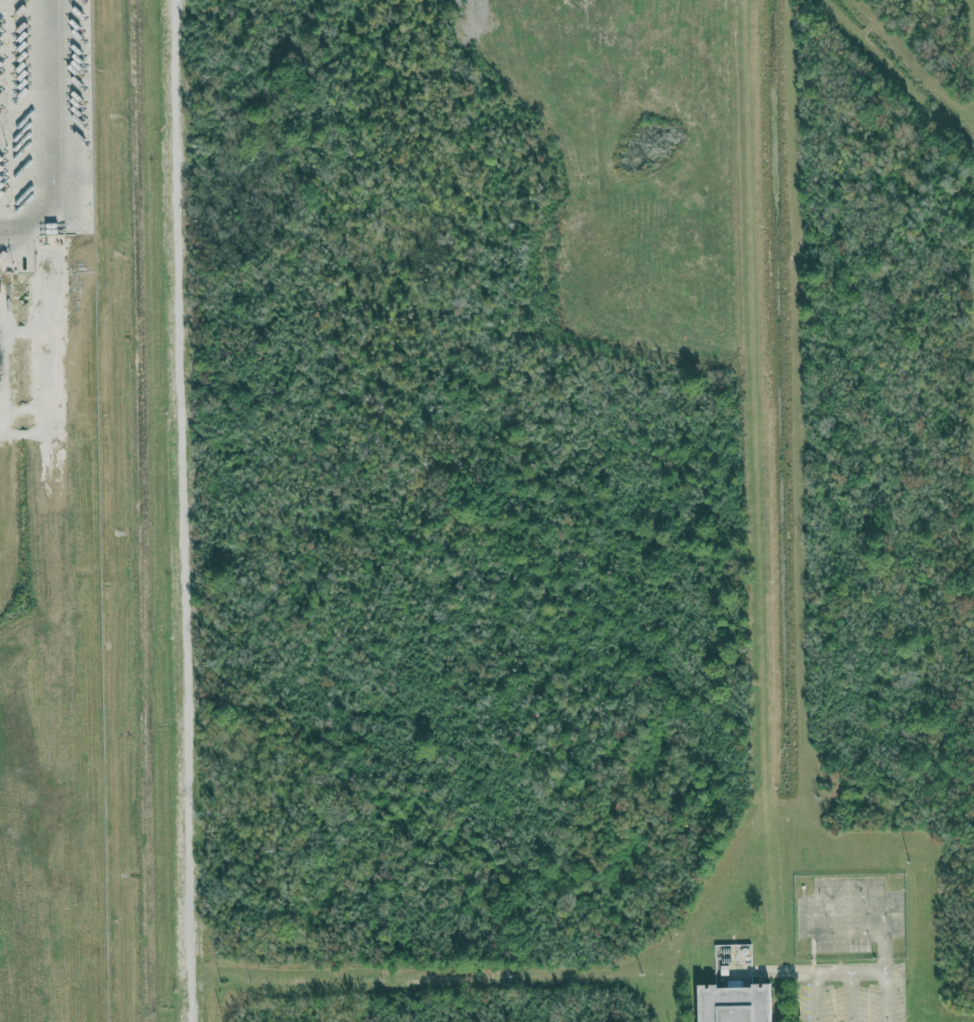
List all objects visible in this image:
road: (51, 131)
building: (51, 471)
building: (737, 1003)

